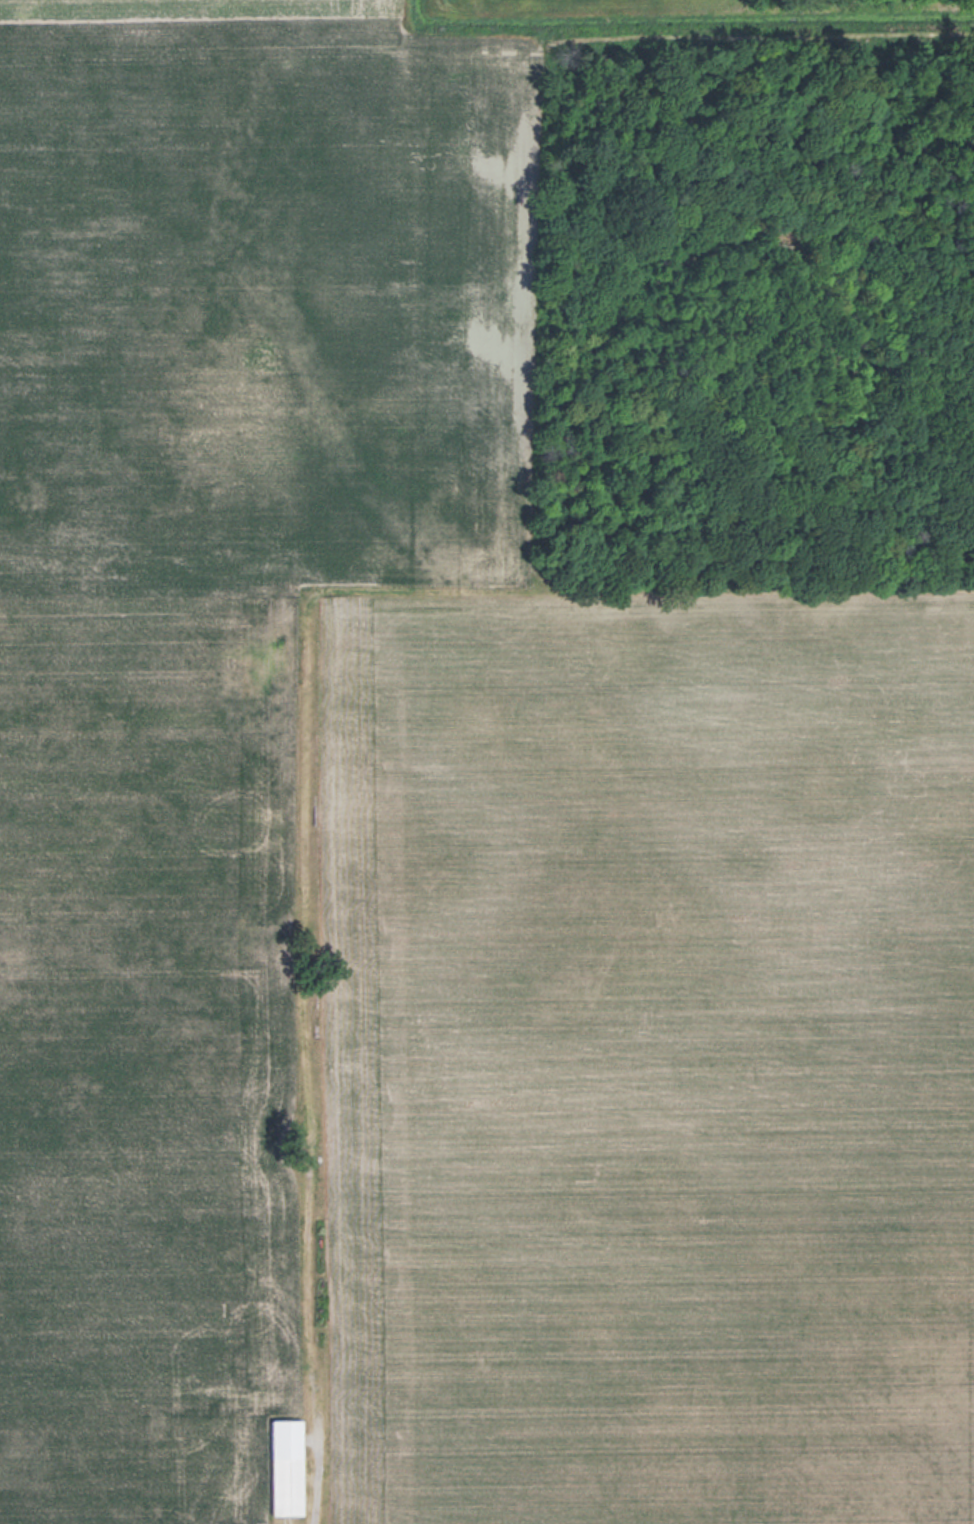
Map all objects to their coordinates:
building: (289, 1466)
road: (319, 1492)

